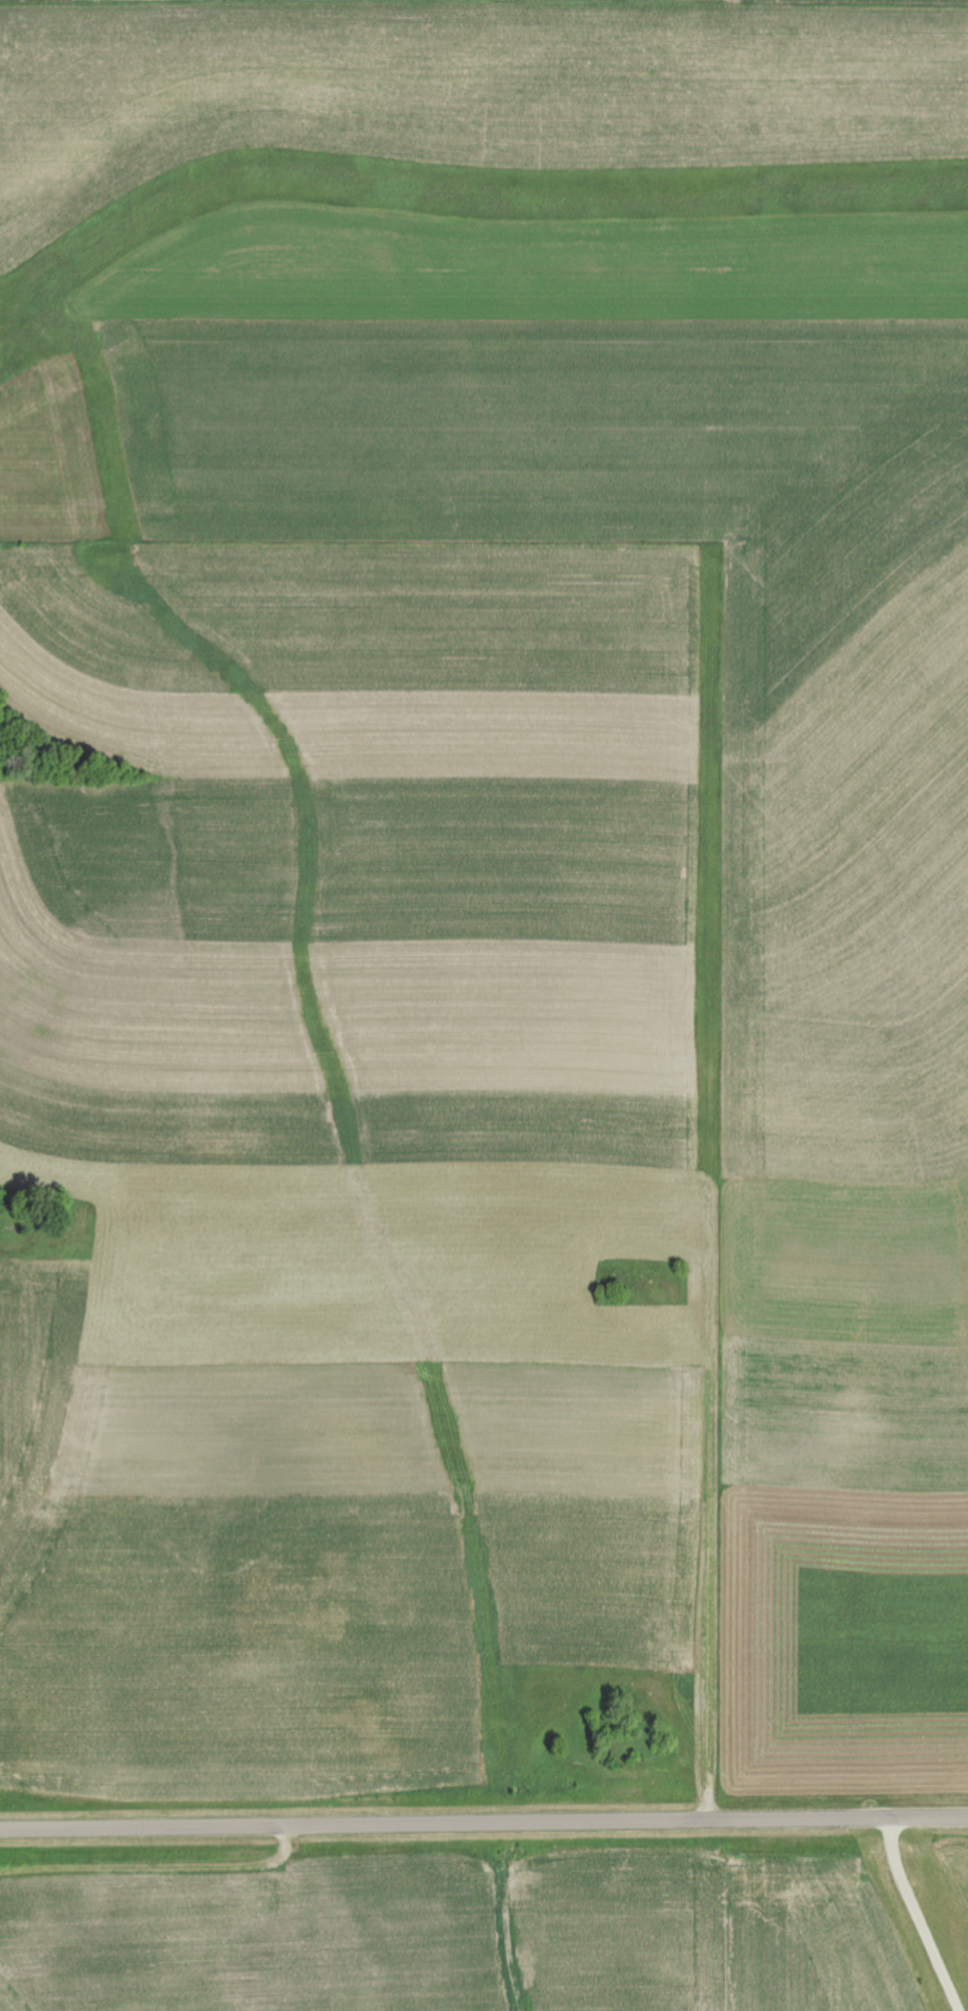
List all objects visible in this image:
road: (483, 1828)
road: (923, 1917)

